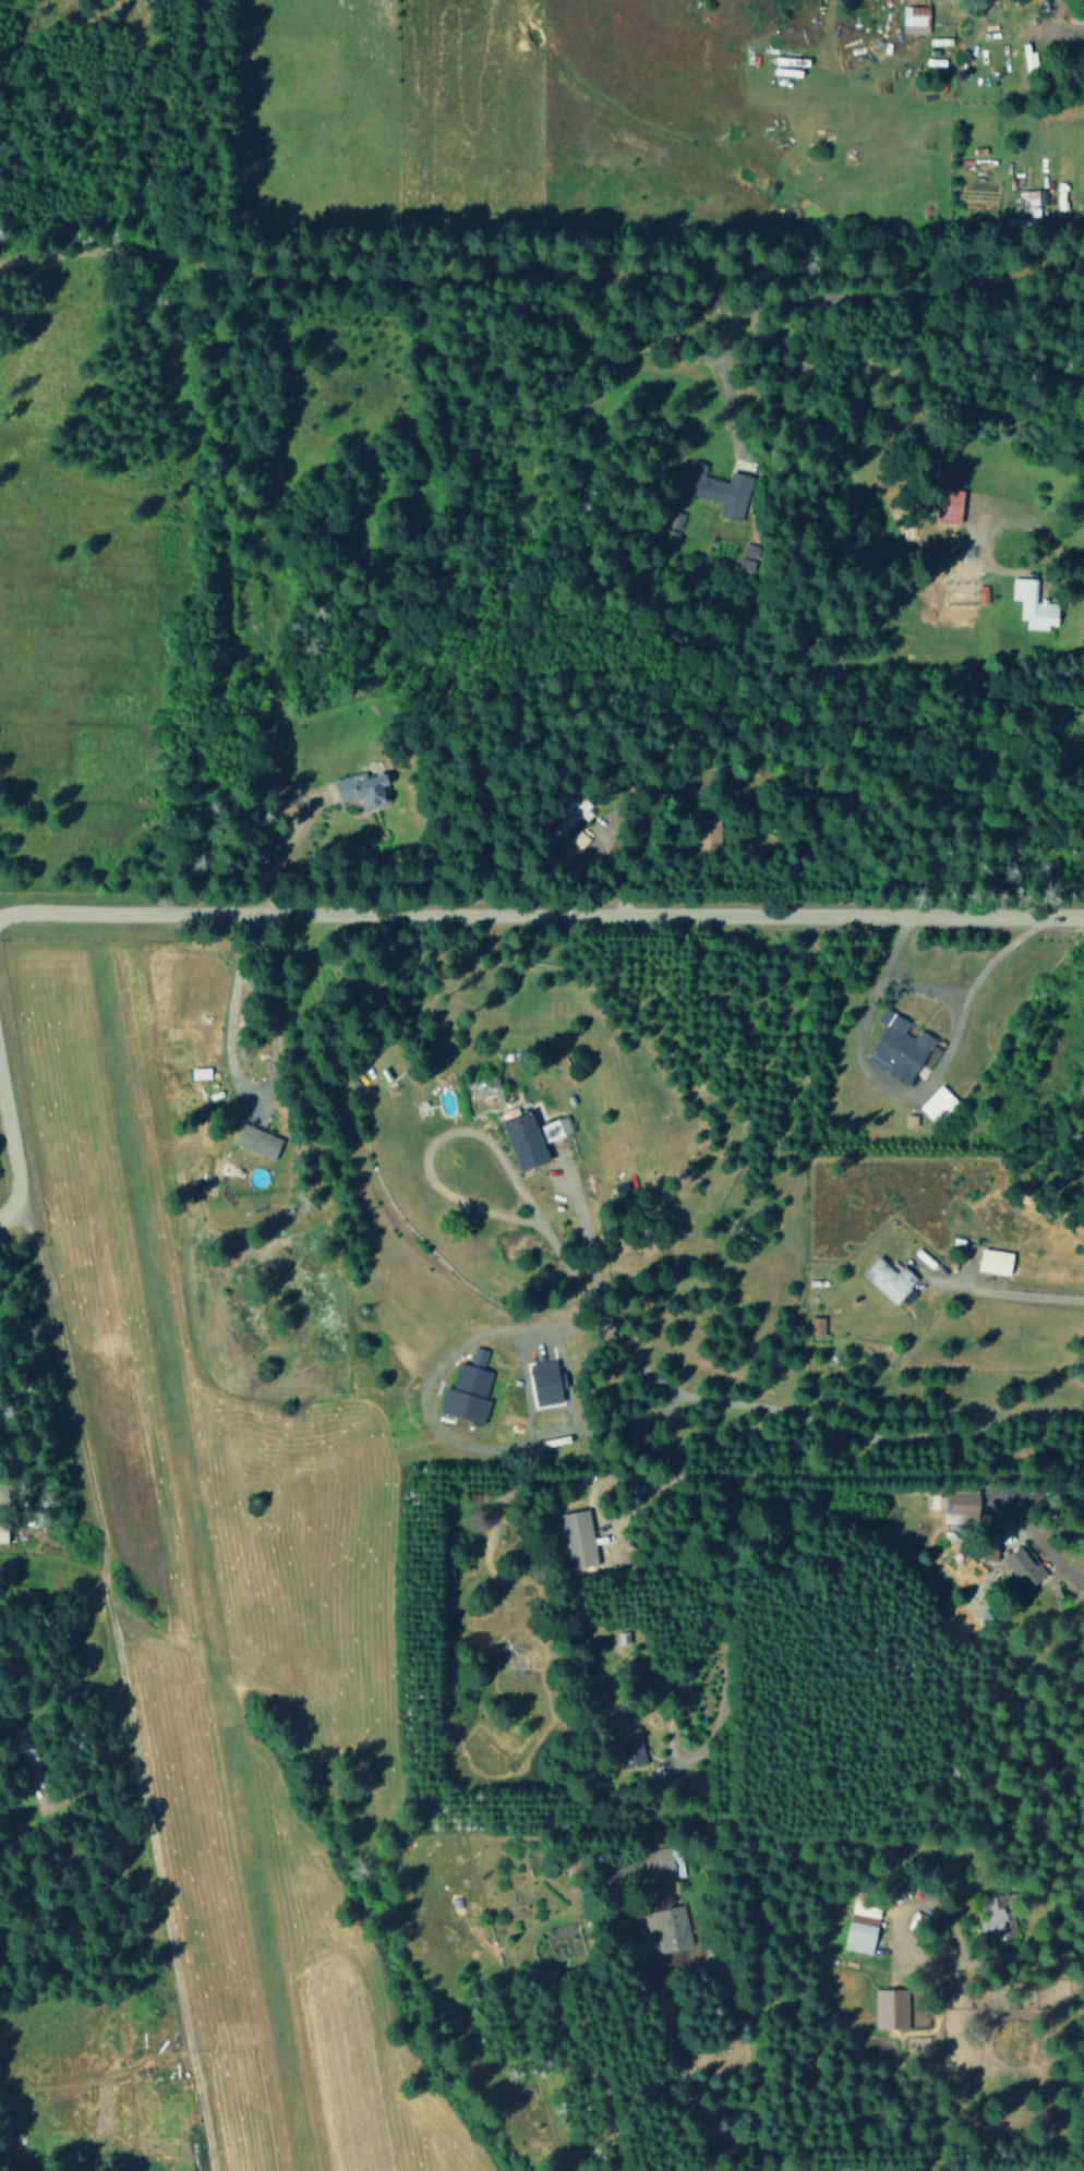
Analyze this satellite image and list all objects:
building: (915, 19)
building: (1028, 203)
road: (538, 267)
building: (715, 489)
building: (949, 505)
building: (672, 524)
building: (747, 558)
building: (1033, 604)
building: (362, 788)
building: (706, 835)
road: (540, 917)
building: (896, 1048)
building: (200, 1073)
building: (937, 1105)
building: (533, 1138)
building: (258, 1141)
road: (486, 1145)
road: (9, 1157)
road: (5, 1211)
building: (995, 1262)
building: (889, 1279)
building: (816, 1325)
building: (546, 1382)
building: (468, 1389)
road: (771, 1409)
road: (758, 1475)
airport runway: (208, 1488)
building: (955, 1505)
building: (3, 1532)
building: (576, 1539)
airport runway: (188, 1561)
building: (1024, 1567)
airport runway: (110, 1597)
road: (108, 1688)
building: (634, 1754)
building: (661, 1861)
building: (990, 1913)
building: (859, 1926)
building: (666, 1929)
building: (891, 2009)
road: (685, 2071)

